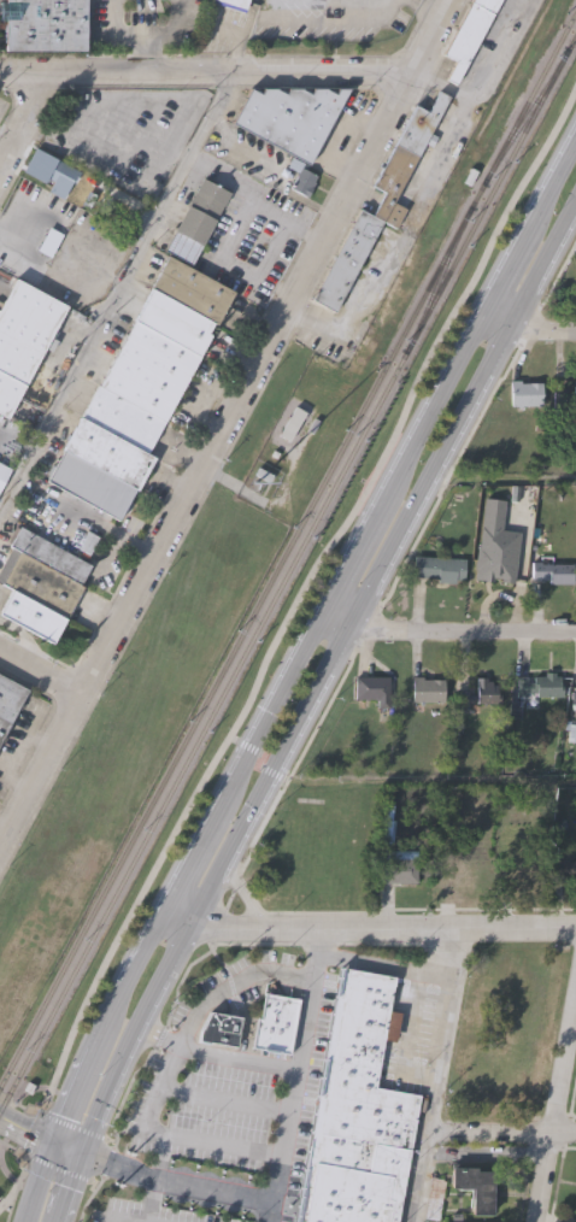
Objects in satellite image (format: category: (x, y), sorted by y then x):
building: (235, 4)
road: (421, 4)
building: (43, 25)
building: (470, 34)
road: (205, 70)
road: (443, 86)
building: (289, 117)
railway: (525, 117)
road: (25, 119)
road: (6, 143)
building: (61, 174)
building: (302, 180)
road: (423, 193)
building: (390, 201)
building: (196, 221)
building: (51, 242)
railway: (437, 280)
road: (117, 289)
road: (524, 331)
building: (23, 340)
building: (140, 389)
building: (525, 393)
building: (565, 396)
road: (225, 421)
building: (294, 422)
building: (4, 472)
road: (504, 478)
road: (86, 516)
building: (495, 545)
railway: (288, 550)
building: (439, 568)
railway: (287, 571)
building: (552, 572)
building: (40, 586)
road: (448, 630)
road: (274, 639)
road: (40, 670)
road: (289, 674)
road: (325, 676)
building: (540, 685)
building: (427, 688)
building: (372, 689)
building: (480, 693)
building: (575, 698)
building: (8, 699)
road: (260, 756)
road: (424, 777)
building: (564, 863)
building: (400, 870)
building: (459, 871)
road: (245, 901)
road: (366, 928)
road: (384, 964)
road: (214, 991)
building: (515, 1018)
building: (274, 1022)
building: (221, 1028)
road: (237, 1053)
road: (436, 1071)
road: (296, 1075)
road: (556, 1109)
building: (358, 1111)
road: (501, 1130)
road: (39, 1135)
road: (170, 1138)
road: (110, 1139)
traffic signals: (49, 1140)
traffic signals: (80, 1152)
road: (57, 1168)
road: (155, 1179)
road: (66, 1185)
road: (175, 1186)
building: (472, 1187)
building: (433, 1199)
road: (125, 1218)
building: (574, 1220)
road: (54, 1221)

